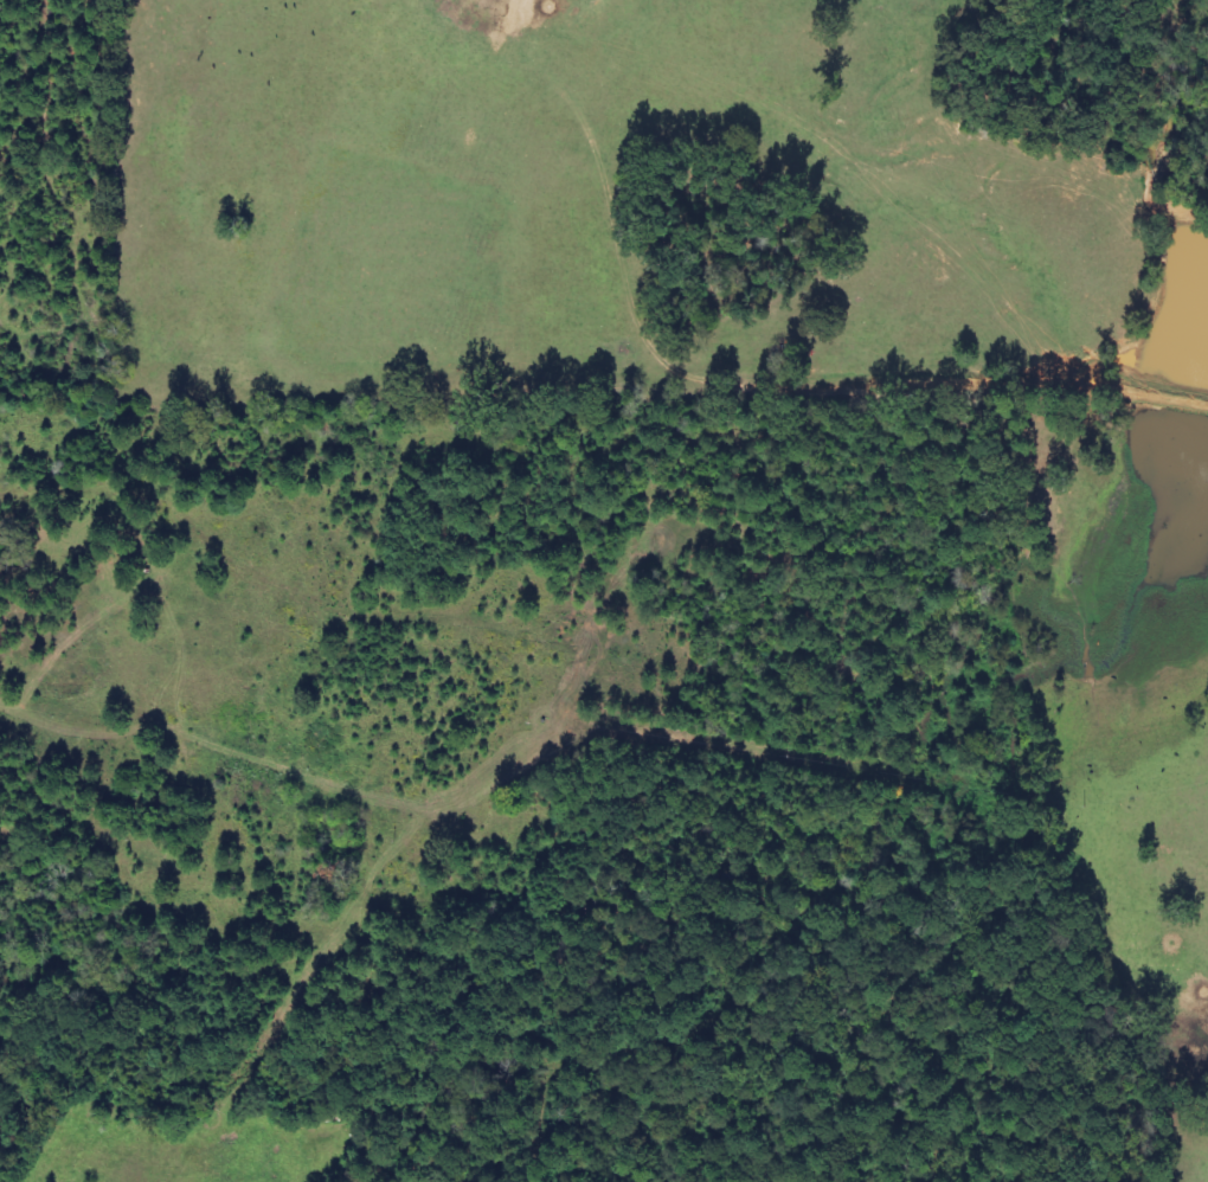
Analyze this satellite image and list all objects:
road: (1007, 380)

